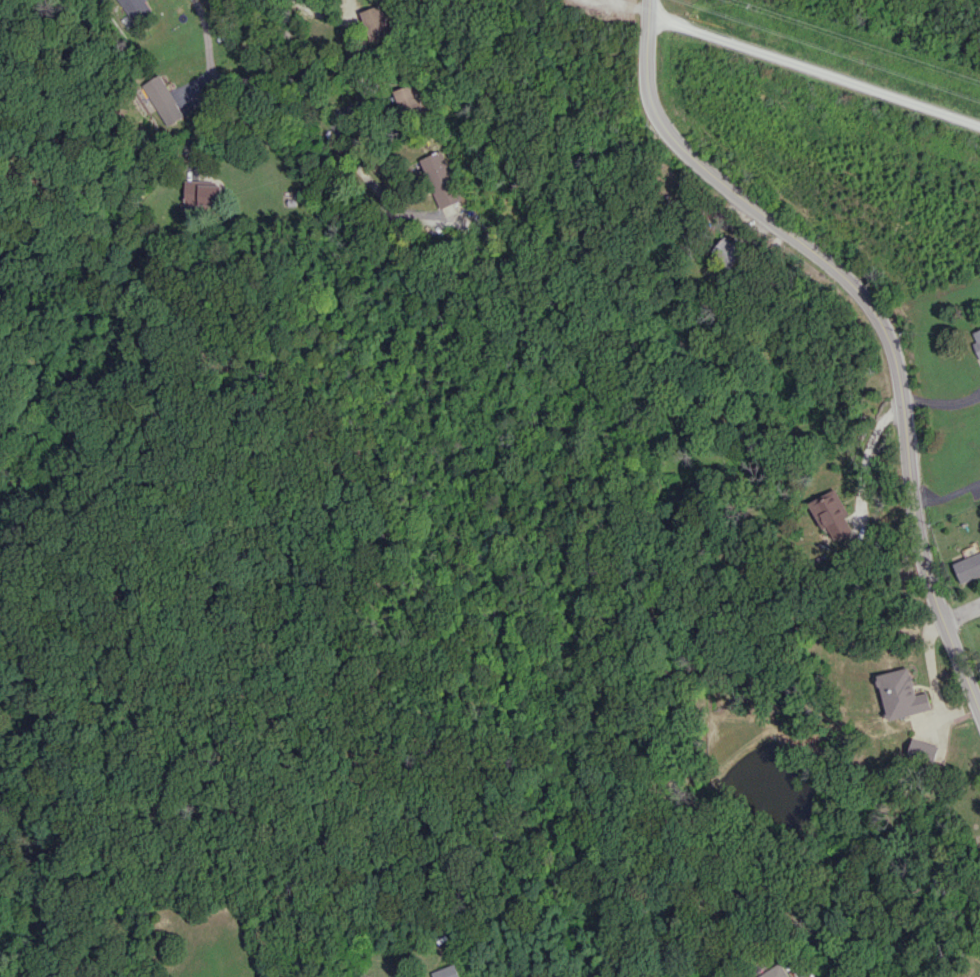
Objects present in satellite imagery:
building: (137, 9)
building: (373, 22)
road: (206, 37)
road: (298, 63)
road: (845, 76)
road: (257, 80)
building: (404, 98)
building: (164, 99)
building: (439, 179)
road: (368, 181)
building: (192, 191)
building: (210, 194)
road: (927, 204)
building: (727, 251)
road: (879, 322)
building: (977, 342)
road: (941, 403)
building: (830, 515)
building: (968, 567)
road: (962, 618)
building: (900, 694)
building: (447, 971)
building: (775, 972)

